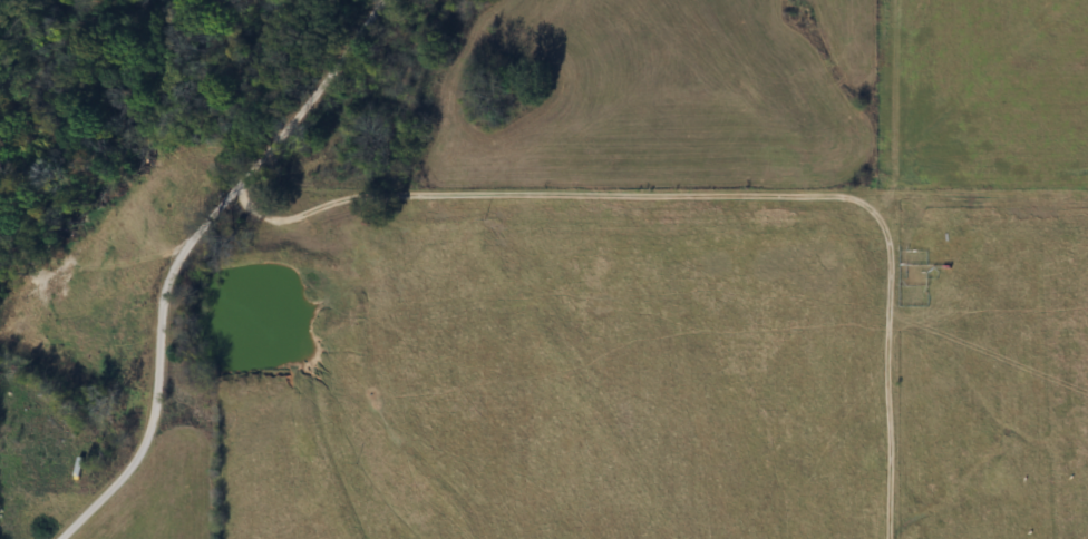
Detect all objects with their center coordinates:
road: (183, 254)

